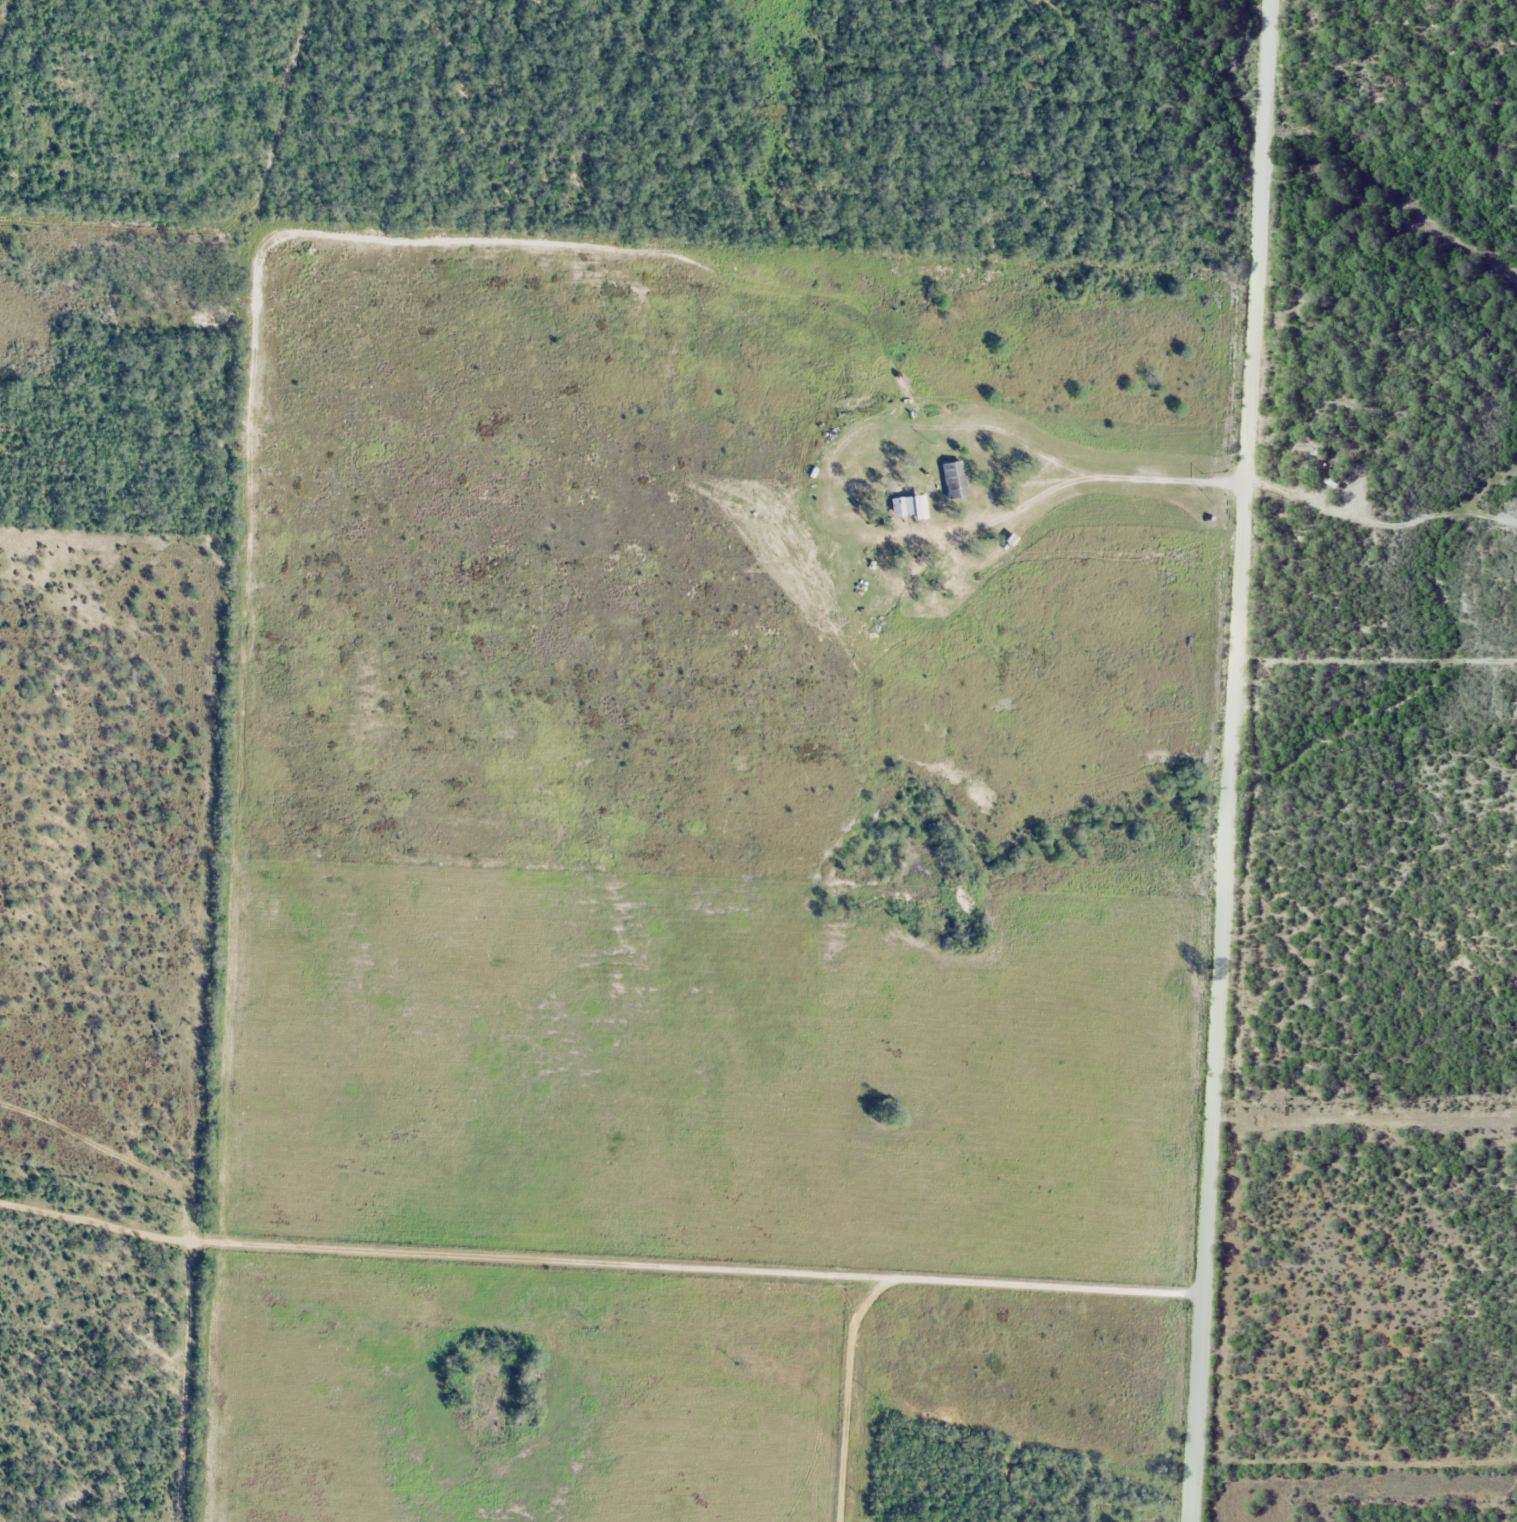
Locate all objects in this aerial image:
building: (955, 478)
building: (897, 501)
road: (1235, 761)

